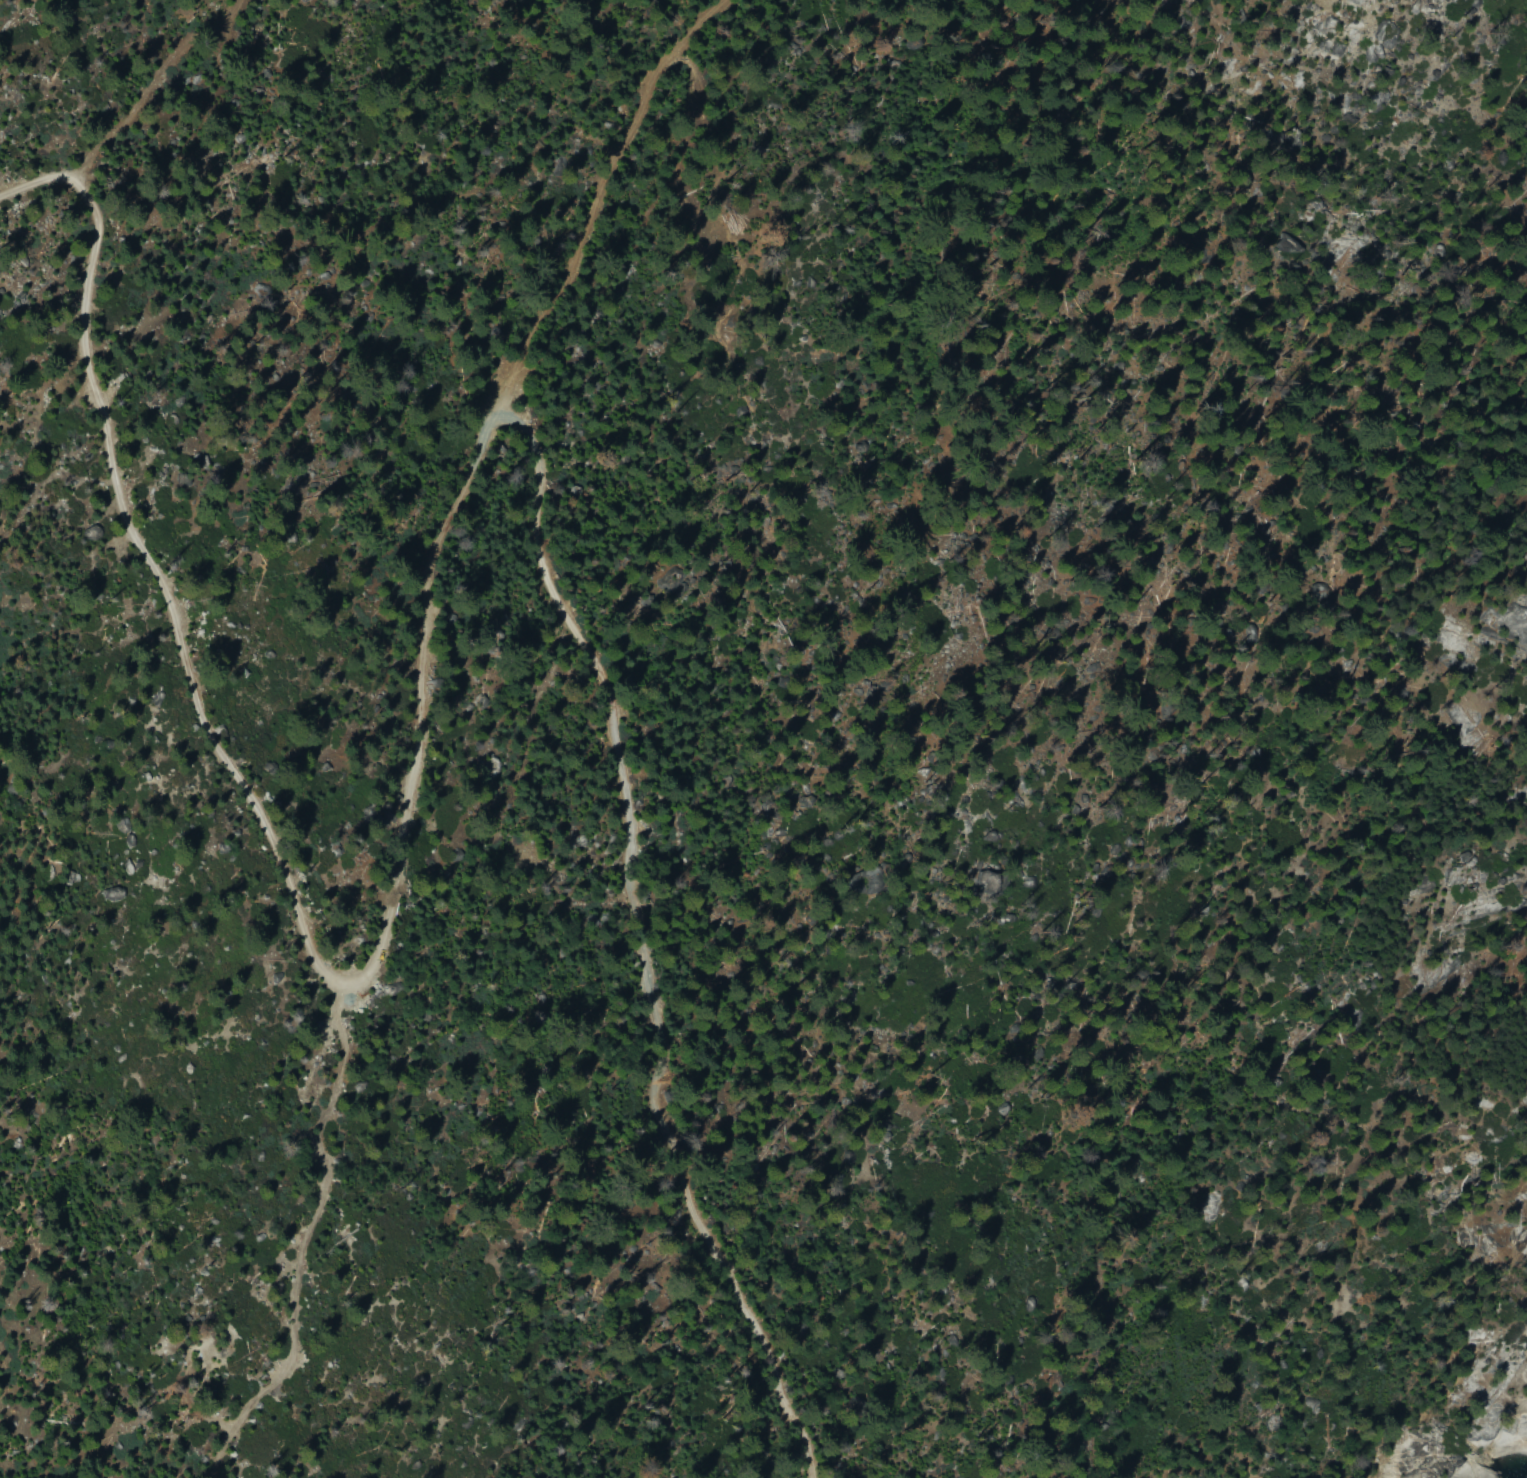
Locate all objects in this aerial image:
road: (194, 149)
road: (596, 209)
road: (240, 829)
road: (665, 946)
road: (330, 1222)

